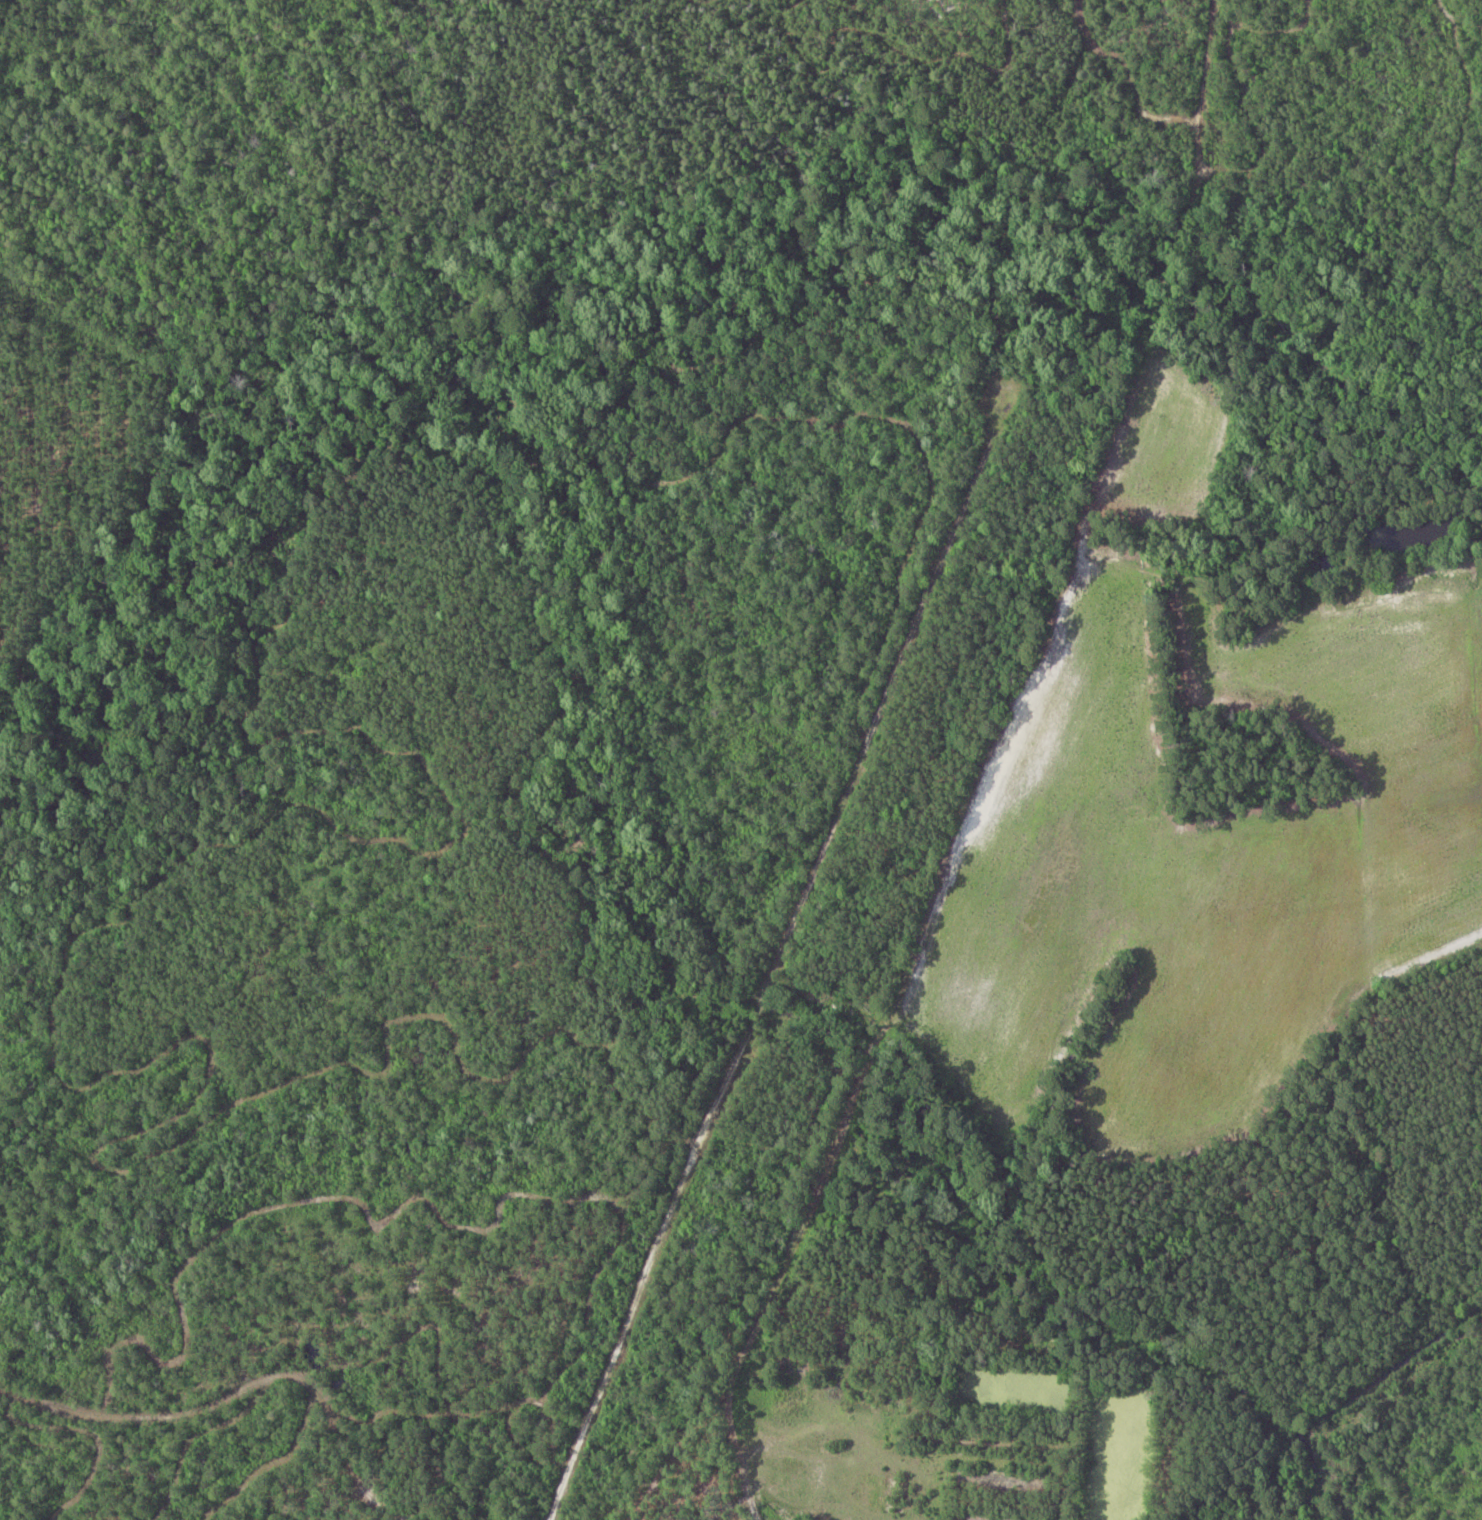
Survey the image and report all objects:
road: (1007, 723)
road: (750, 1475)

